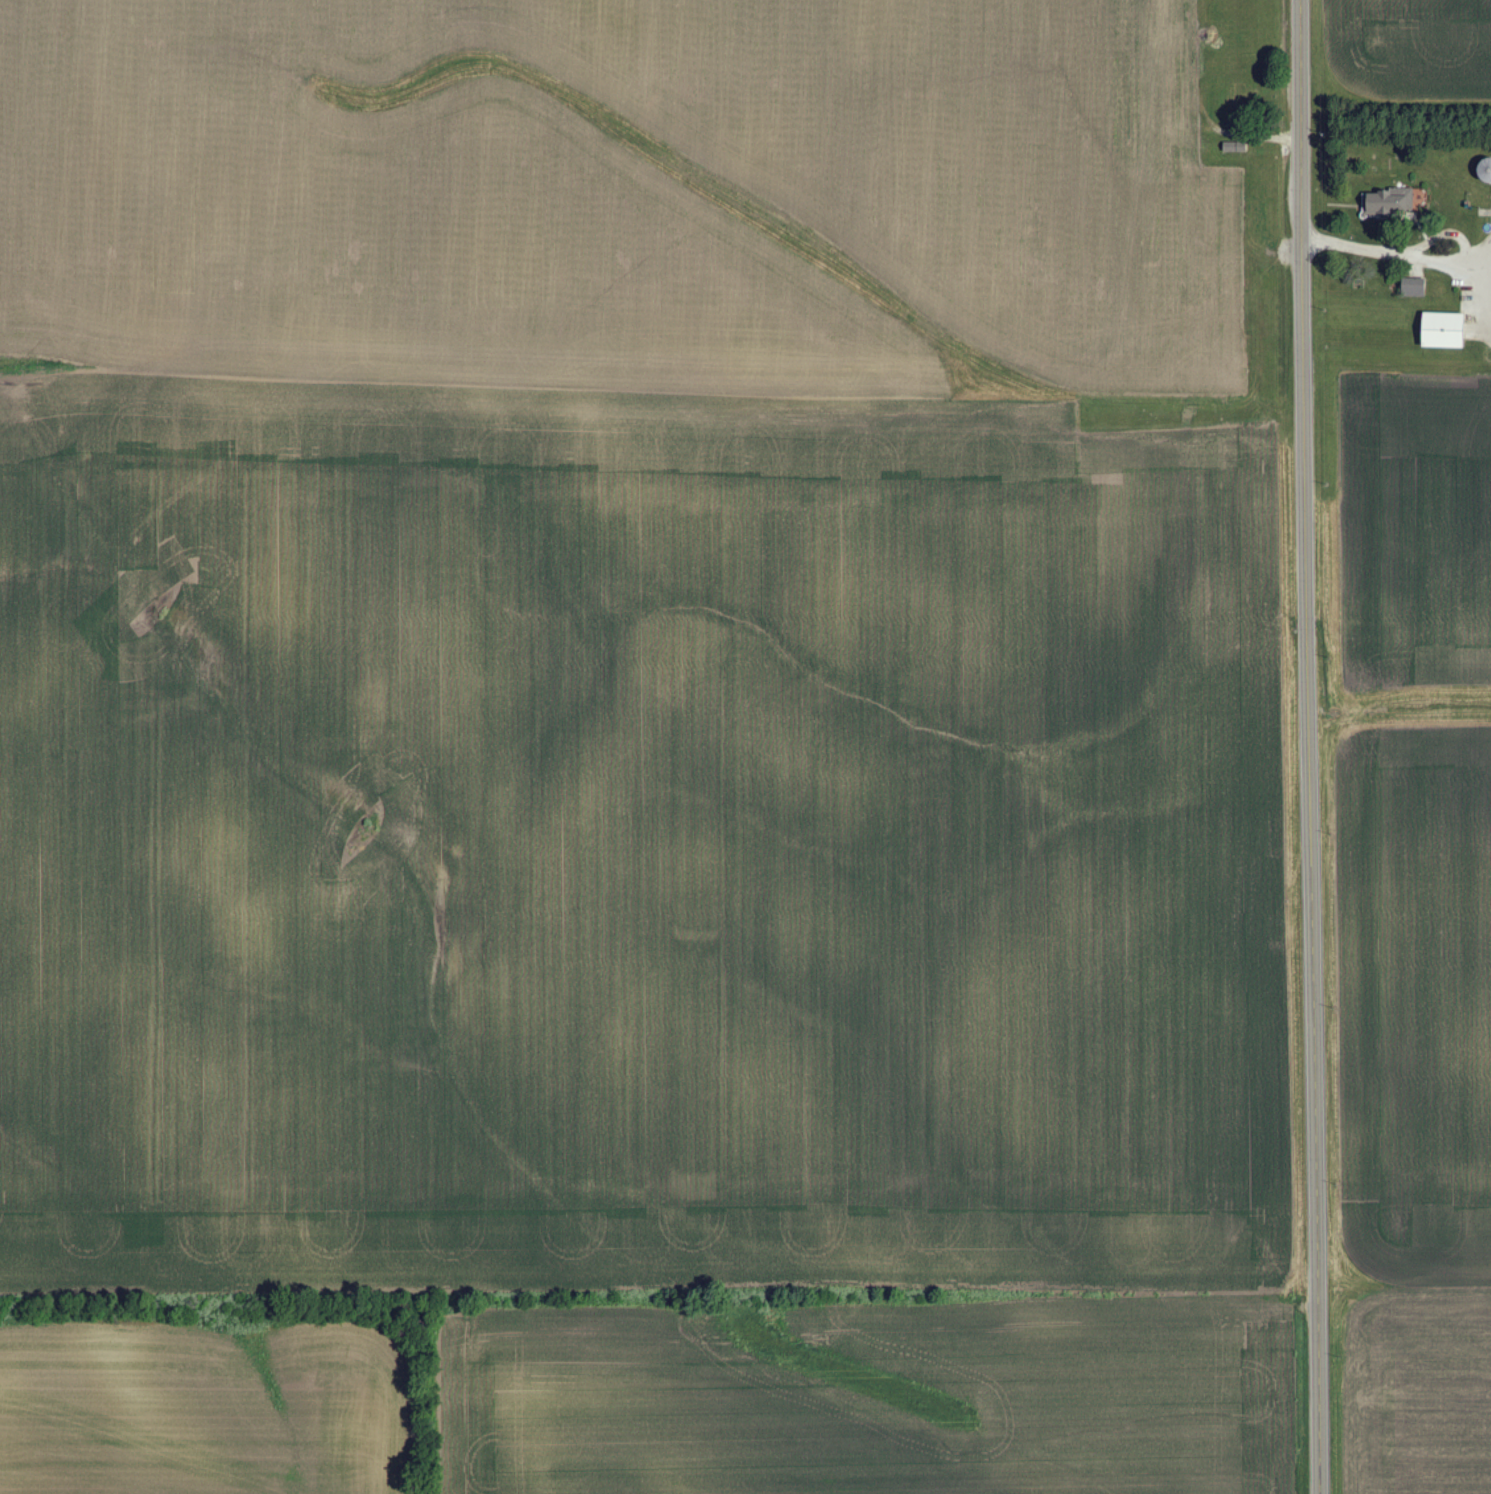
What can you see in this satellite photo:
building: (1393, 203)
building: (1418, 289)
building: (1449, 332)
road: (1306, 747)

